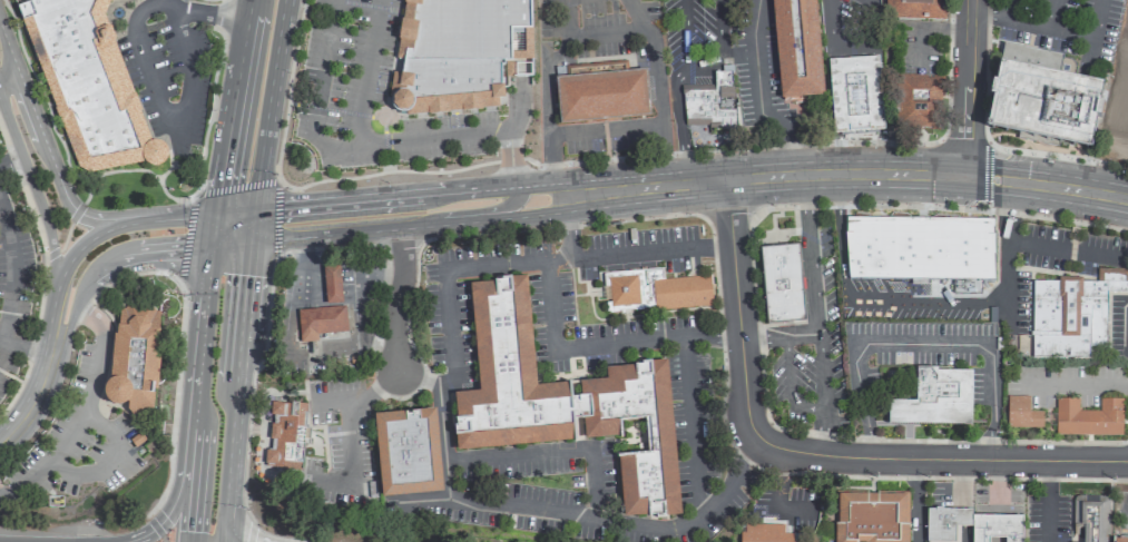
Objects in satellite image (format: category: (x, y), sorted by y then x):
road: (168, 2)
road: (1008, 9)
building: (914, 10)
road: (988, 14)
road: (1053, 14)
road: (222, 16)
road: (1099, 18)
road: (567, 20)
road: (753, 26)
road: (719, 27)
road: (872, 28)
road: (1050, 28)
road: (828, 30)
road: (684, 31)
road: (607, 35)
road: (852, 46)
building: (796, 48)
building: (454, 52)
road: (753, 56)
road: (146, 67)
road: (365, 71)
parking lot: (168, 76)
road: (9, 79)
building: (87, 82)
road: (127, 91)
parking lot: (366, 91)
building: (599, 92)
road: (877, 92)
road: (41, 95)
building: (854, 95)
road: (967, 95)
road: (834, 96)
building: (1041, 98)
building: (712, 101)
building: (916, 101)
road: (268, 102)
road: (233, 105)
road: (548, 116)
road: (1125, 122)
road: (679, 124)
road: (507, 131)
road: (1125, 138)
road: (963, 140)
road: (987, 142)
road: (43, 144)
road: (337, 144)
road: (882, 145)
road: (835, 147)
road: (787, 148)
road: (167, 154)
road: (583, 160)
road: (690, 169)
road: (835, 173)
road: (987, 173)
road: (198, 184)
road: (33, 187)
road: (227, 188)
road: (982, 189)
road: (985, 206)
traffic signals: (253, 207)
road: (234, 209)
road: (725, 210)
road: (76, 211)
traffic signals: (216, 211)
road: (462, 211)
road: (542, 213)
road: (653, 216)
road: (251, 224)
road: (214, 228)
road: (95, 235)
road: (65, 237)
road: (400, 240)
traffic signals: (249, 242)
road: (1033, 242)
road: (230, 243)
traffic signals: (213, 245)
building: (918, 247)
road: (51, 253)
road: (627, 253)
road: (1007, 258)
road: (110, 259)
road: (45, 272)
road: (10, 282)
road: (268, 284)
road: (107, 285)
building: (331, 286)
building: (781, 286)
building: (651, 292)
road: (870, 296)
parking lot: (12, 297)
road: (294, 297)
road: (396, 298)
road: (551, 305)
road: (754, 308)
building: (1071, 314)
road: (736, 319)
road: (815, 319)
building: (320, 323)
road: (449, 323)
road: (776, 334)
road: (919, 339)
road: (618, 342)
road: (26, 345)
building: (134, 369)
building: (504, 377)
road: (787, 384)
road: (377, 387)
road: (236, 391)
road: (175, 392)
road: (196, 393)
road: (37, 398)
building: (934, 401)
road: (82, 411)
building: (1020, 414)
building: (1088, 418)
road: (689, 425)
building: (286, 432)
building: (634, 433)
road: (346, 437)
building: (405, 452)
road: (756, 453)
road: (517, 455)
road: (944, 459)
road: (1047, 470)
road: (778, 477)
road: (997, 482)
road: (590, 483)
road: (915, 500)
road: (171, 504)
road: (1124, 506)
road: (792, 507)
road: (1046, 511)
building: (1089, 515)
building: (870, 516)
road: (587, 518)
road: (998, 523)
building: (945, 524)
road: (155, 528)
building: (995, 529)
road: (248, 531)
building: (764, 533)
road: (163, 541)
building: (1120, 541)

